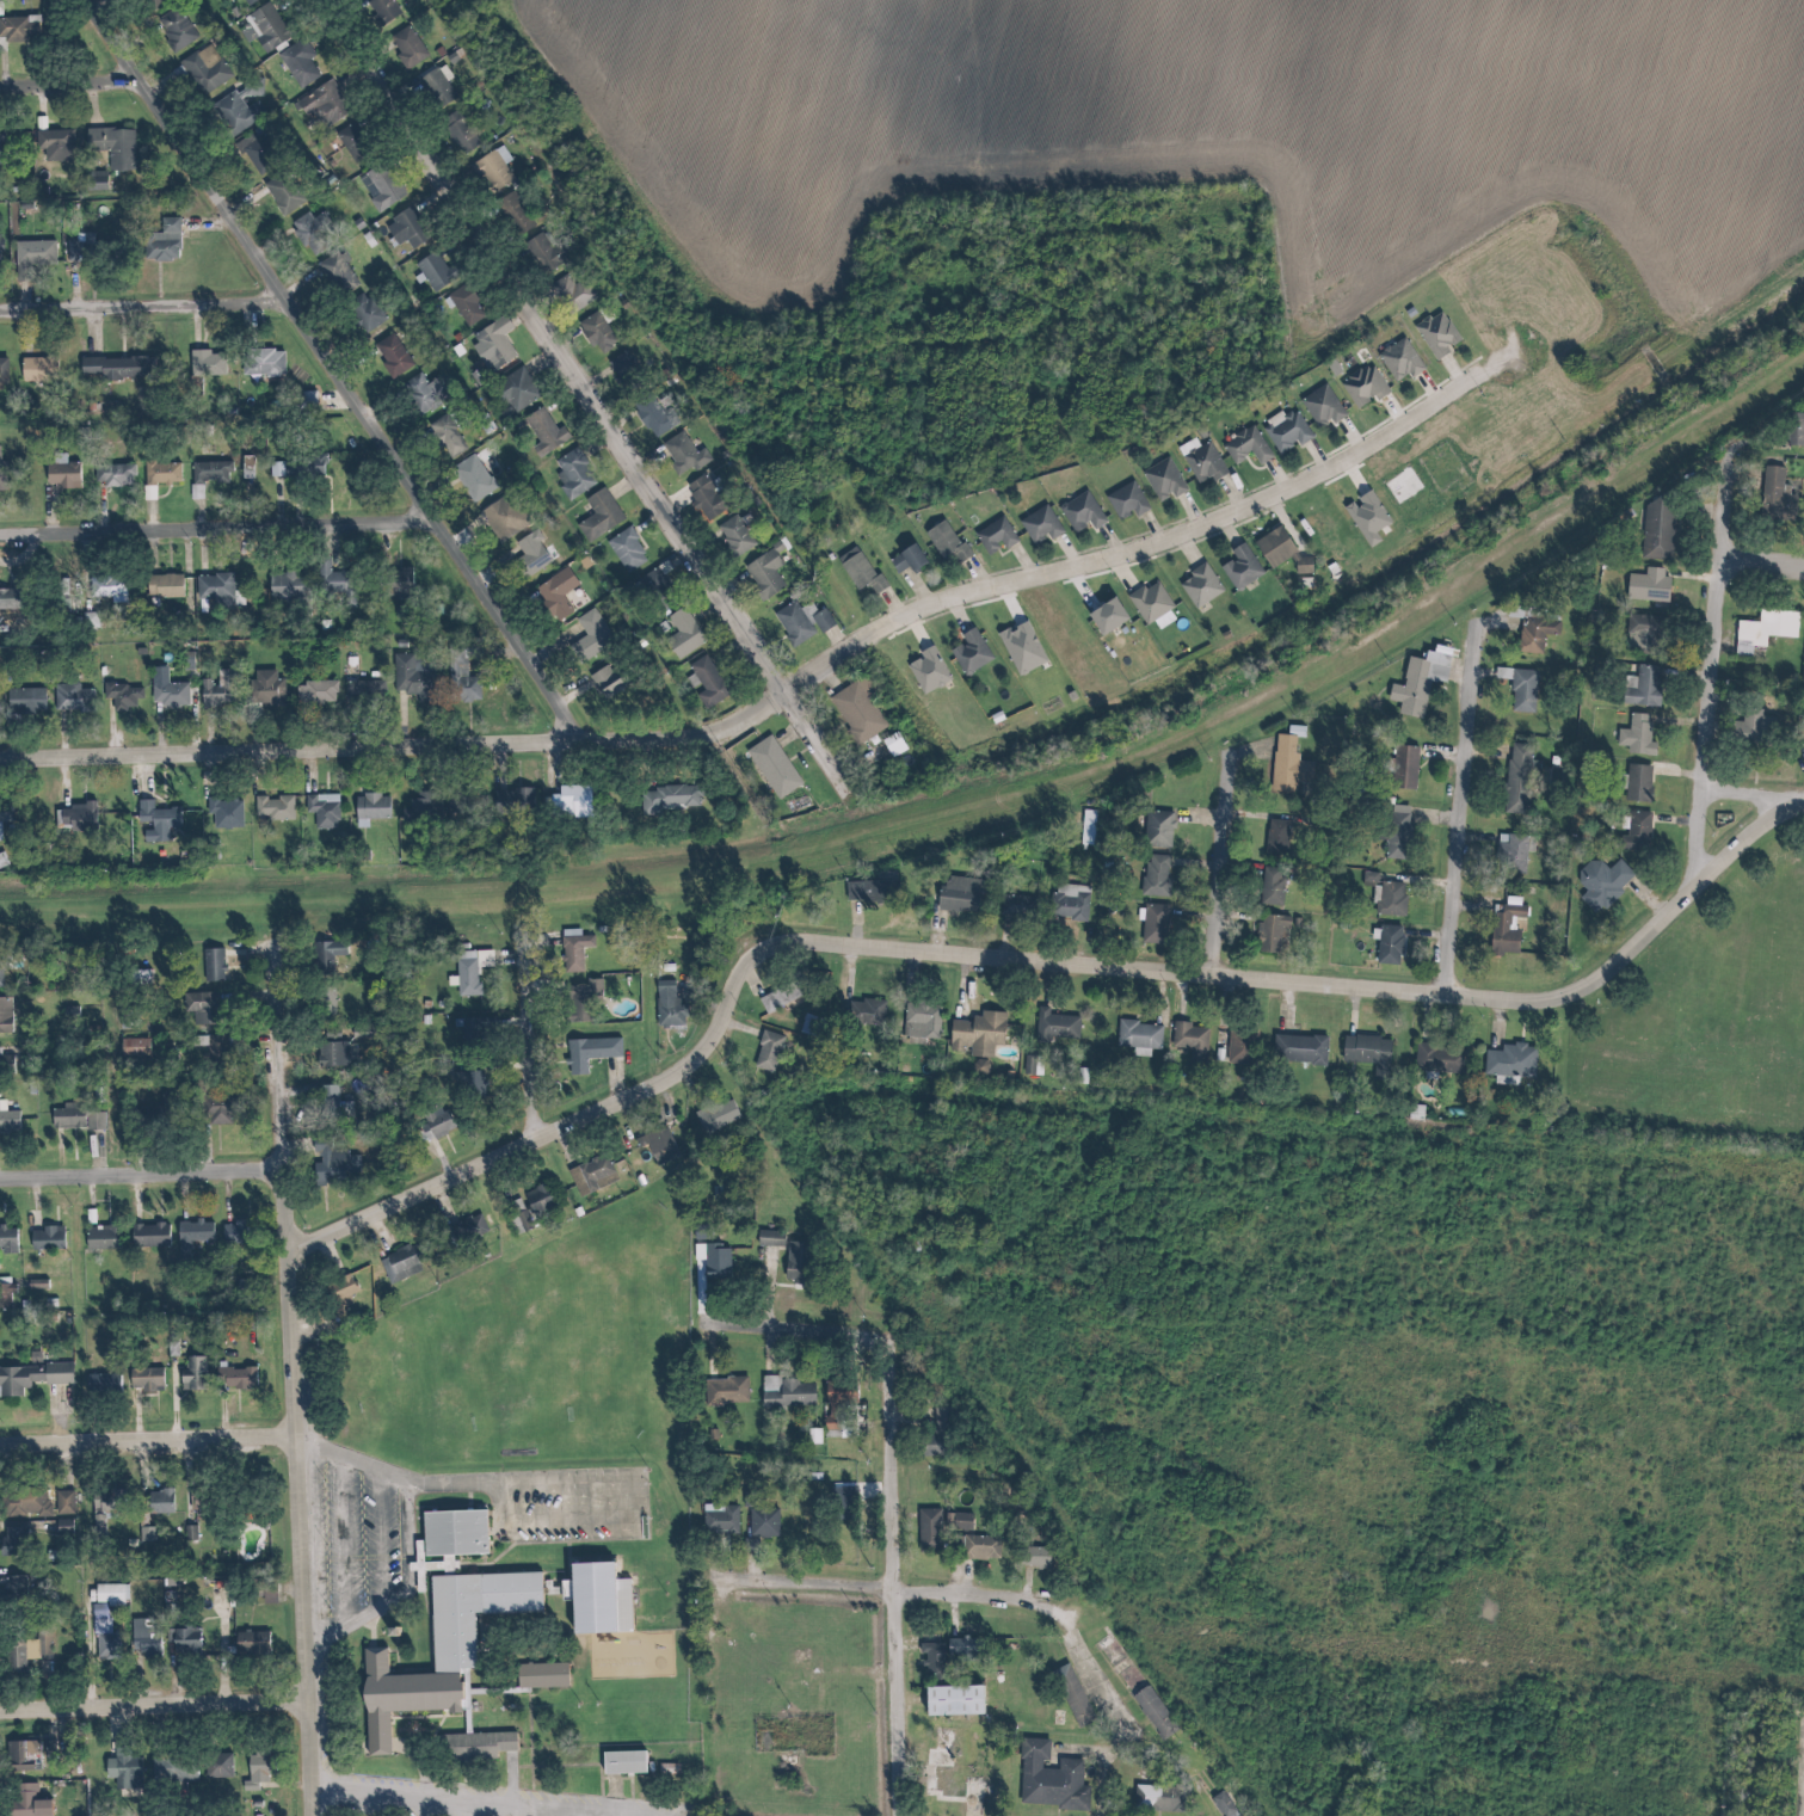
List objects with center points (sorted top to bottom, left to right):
building: (246, 1)
building: (381, 8)
building: (177, 26)
building: (271, 26)
building: (21, 27)
building: (405, 45)
building: (300, 62)
building: (207, 67)
road: (73, 79)
building: (435, 85)
building: (325, 103)
building: (240, 106)
building: (457, 130)
building: (355, 141)
building: (57, 143)
building: (116, 144)
building: (2, 148)
building: (263, 153)
building: (491, 167)
building: (378, 186)
building: (285, 191)
building: (511, 211)
building: (405, 227)
building: (312, 232)
building: (170, 239)
building: (2, 246)
building: (81, 247)
building: (37, 251)
building: (541, 251)
building: (337, 267)
building: (431, 270)
building: (571, 289)
road: (147, 300)
building: (464, 303)
building: (371, 315)
building: (595, 332)
building: (1434, 333)
building: (492, 343)
building: (392, 353)
building: (1398, 359)
building: (210, 362)
building: (266, 362)
building: (621, 362)
building: (117, 365)
building: (42, 368)
road: (340, 368)
building: (5, 373)
road: (584, 373)
building: (1362, 384)
building: (515, 389)
building: (421, 392)
building: (1319, 405)
building: (651, 415)
building: (1790, 429)
building: (1285, 430)
building: (543, 431)
building: (444, 436)
building: (1245, 445)
building: (681, 453)
building: (1200, 460)
building: (319, 463)
building: (2, 467)
building: (289, 467)
building: (211, 470)
building: (165, 472)
building: (115, 473)
building: (571, 473)
building: (64, 474)
building: (470, 476)
building: (1162, 479)
building: (197, 491)
building: (1773, 494)
building: (702, 497)
building: (1125, 499)
building: (1079, 511)
building: (597, 513)
building: (1365, 516)
building: (500, 517)
building: (1039, 524)
road: (220, 527)
building: (1655, 528)
building: (732, 535)
building: (993, 535)
building: (944, 541)
road: (1141, 548)
building: (624, 549)
building: (1277, 550)
building: (528, 554)
road: (1767, 555)
building: (904, 558)
building: (1239, 566)
building: (857, 570)
building: (762, 573)
building: (337, 577)
building: (651, 580)
building: (170, 584)
building: (291, 584)
building: (1197, 584)
building: (109, 585)
building: (1645, 585)
building: (217, 586)
building: (554, 591)
building: (1147, 601)
building: (1104, 615)
building: (820, 618)
building: (1162, 620)
building: (790, 622)
building: (1762, 629)
building: (1638, 632)
building: (681, 633)
building: (1534, 633)
building: (589, 634)
building: (1020, 647)
building: (968, 651)
building: (926, 669)
building: (1802, 671)
road: (1718, 672)
building: (414, 675)
building: (1416, 678)
building: (604, 679)
building: (706, 681)
building: (461, 682)
building: (1517, 684)
building: (1639, 685)
building: (271, 687)
building: (170, 689)
building: (218, 689)
building: (362, 690)
building: (318, 691)
building: (123, 695)
building: (72, 696)
building: (30, 698)
building: (855, 710)
building: (1643, 738)
road: (402, 741)
building: (770, 765)
building: (1291, 767)
building: (1405, 768)
building: (1520, 781)
building: (1639, 784)
road: (1756, 788)
building: (511, 798)
building: (567, 799)
building: (665, 799)
building: (425, 805)
building: (273, 806)
building: (374, 806)
building: (322, 808)
road: (1465, 808)
building: (227, 812)
building: (4, 814)
railway: (960, 814)
building: (78, 815)
building: (159, 820)
building: (1638, 832)
building: (1399, 833)
building: (1279, 838)
building: (1513, 855)
road: (1227, 858)
building: (2, 860)
building: (1171, 874)
building: (1602, 884)
building: (1273, 887)
building: (1394, 900)
building: (1156, 924)
road: (804, 927)
building: (1272, 932)
building: (1508, 932)
building: (1391, 946)
building: (572, 948)
road: (1028, 952)
building: (468, 969)
building: (577, 998)
building: (665, 1003)
building: (204, 1007)
building: (6, 1016)
building: (924, 1021)
building: (1059, 1028)
building: (980, 1033)
building: (1141, 1036)
road: (540, 1038)
building: (1193, 1042)
building: (138, 1046)
building: (218, 1047)
building: (1243, 1047)
building: (1301, 1049)
building: (587, 1052)
building: (1369, 1052)
building: (337, 1053)
building: (1, 1059)
building: (1441, 1059)
building: (1511, 1060)
building: (472, 1083)
building: (10, 1116)
building: (78, 1116)
building: (714, 1116)
building: (441, 1121)
building: (655, 1144)
road: (146, 1174)
building: (590, 1174)
building: (535, 1198)
building: (522, 1219)
building: (478, 1224)
building: (236, 1231)
building: (103, 1232)
building: (158, 1233)
building: (196, 1235)
building: (49, 1237)
building: (10, 1241)
building: (774, 1241)
building: (706, 1254)
building: (405, 1261)
building: (799, 1264)
road: (809, 1323)
building: (192, 1374)
building: (31, 1379)
building: (239, 1379)
building: (144, 1383)
road: (304, 1384)
building: (104, 1385)
building: (727, 1392)
building: (789, 1393)
building: (842, 1393)
building: (944, 1418)
road: (153, 1443)
road: (536, 1478)
building: (207, 1500)
building: (845, 1500)
building: (161, 1501)
building: (66, 1503)
building: (29, 1504)
building: (106, 1506)
building: (721, 1522)
building: (963, 1522)
building: (765, 1523)
building: (930, 1532)
building: (456, 1533)
road: (394, 1538)
road: (424, 1539)
building: (17, 1543)
road: (358, 1543)
building: (981, 1549)
road: (904, 1553)
building: (1038, 1556)
road: (966, 1587)
building: (17, 1594)
building: (598, 1600)
building: (147, 1636)
building: (106, 1643)
building: (187, 1644)
building: (253, 1644)
building: (962, 1650)
building: (29, 1652)
building: (934, 1658)
building: (541, 1675)
building: (418, 1695)
building: (1075, 1698)
building: (953, 1701)
road: (158, 1705)
building: (1156, 1713)
building: (478, 1747)
building: (25, 1756)
building: (624, 1762)
building: (221, 1765)
building: (670, 1768)
building: (124, 1769)
building: (949, 1771)
building: (173, 1772)
building: (259, 1772)
building: (1051, 1779)
road: (475, 1798)
building: (1162, 1799)
building: (27, 1802)
building: (1226, 1804)
road: (1223, 1808)
road: (985, 1810)

